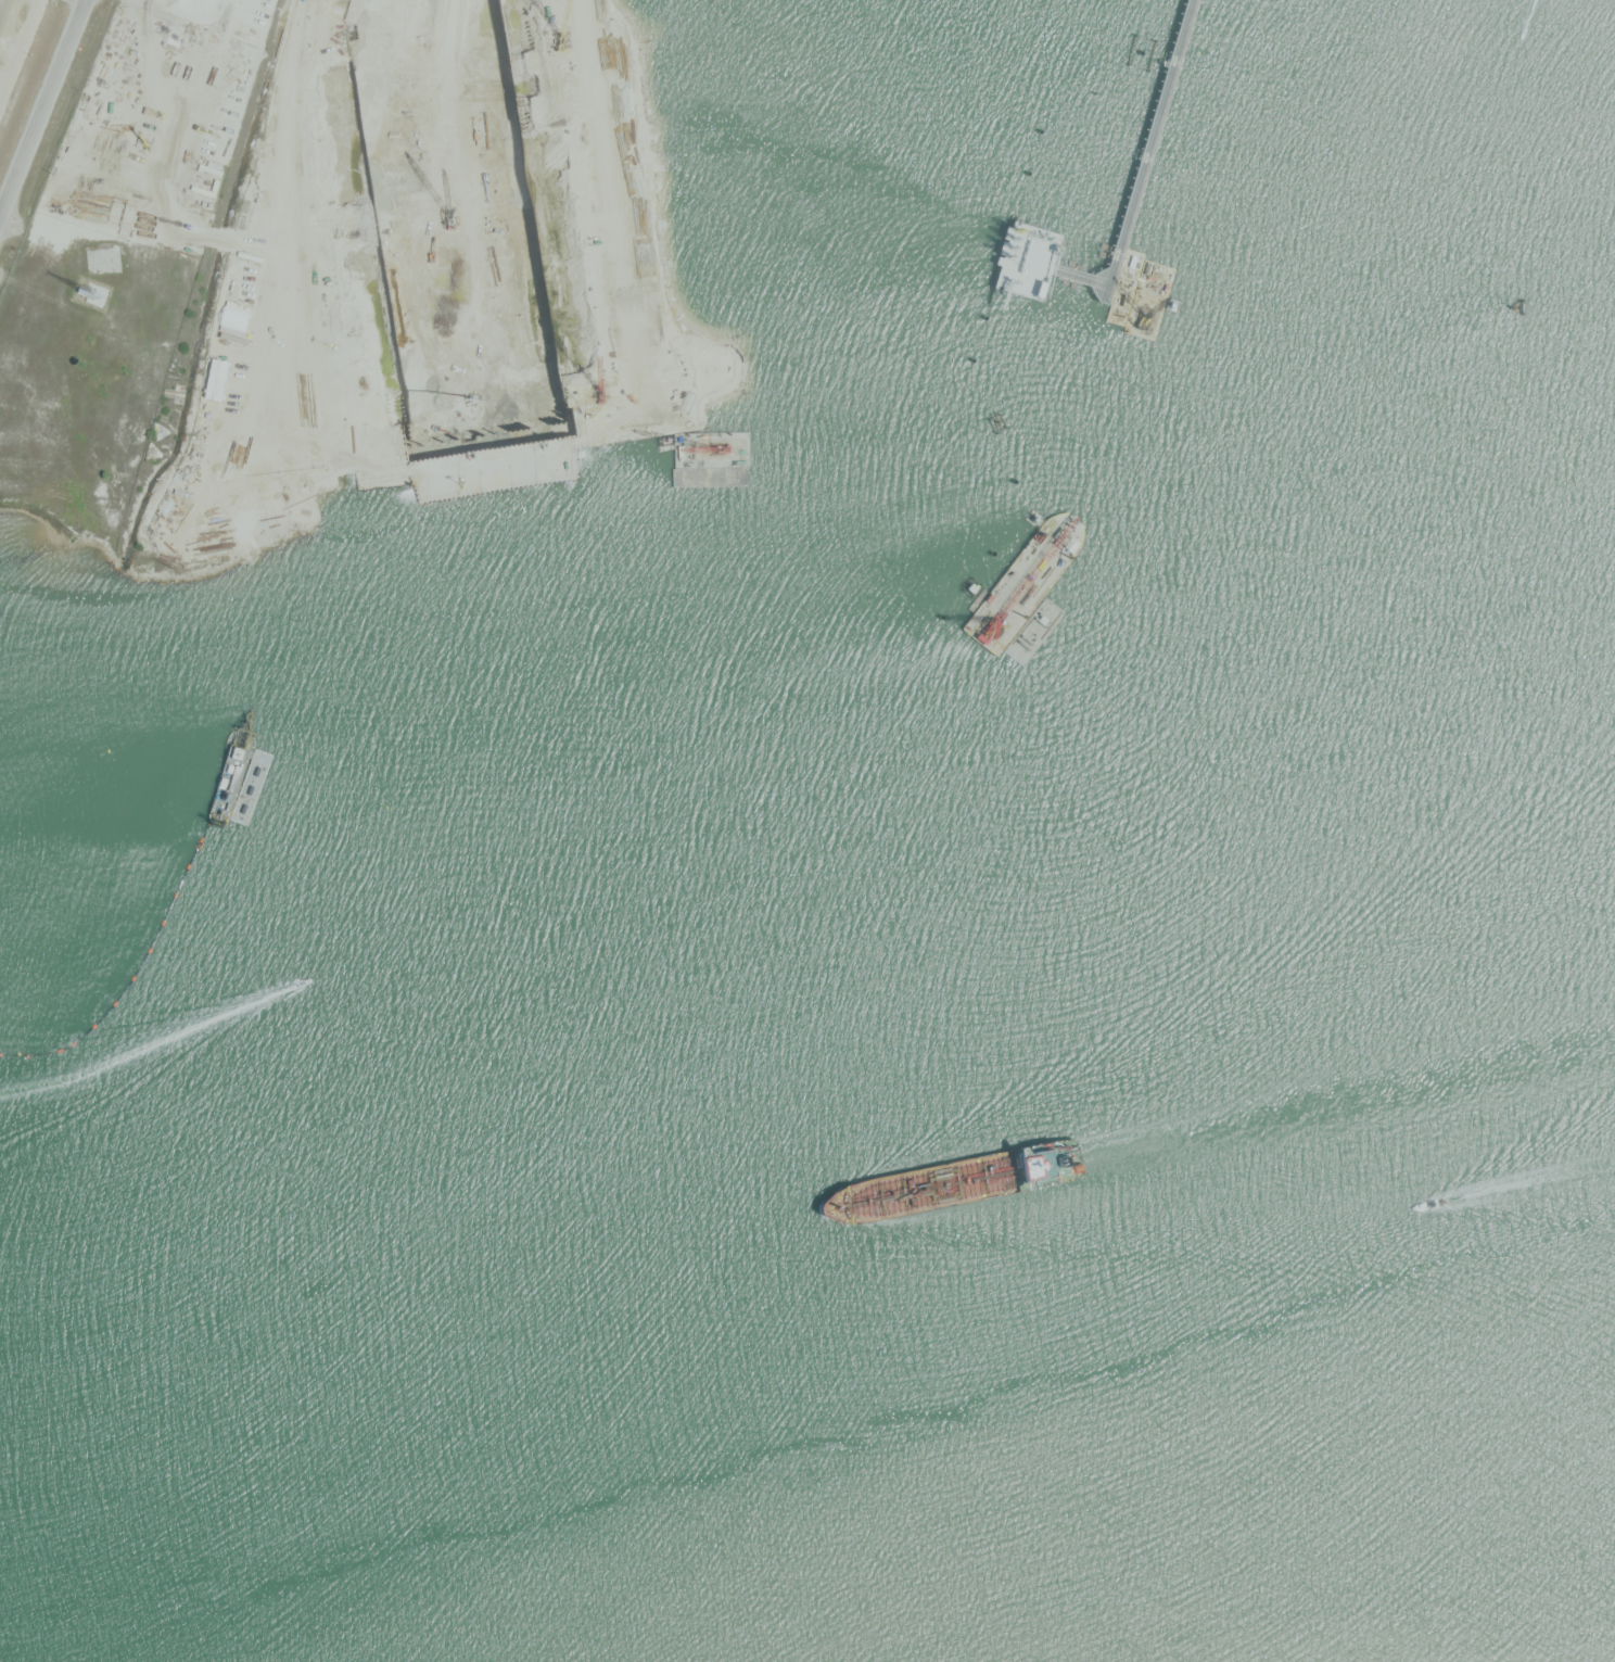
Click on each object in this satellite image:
road: (42, 107)
building: (551, 154)
building: (208, 176)
building: (100, 259)
building: (745, 504)
building: (589, 513)

